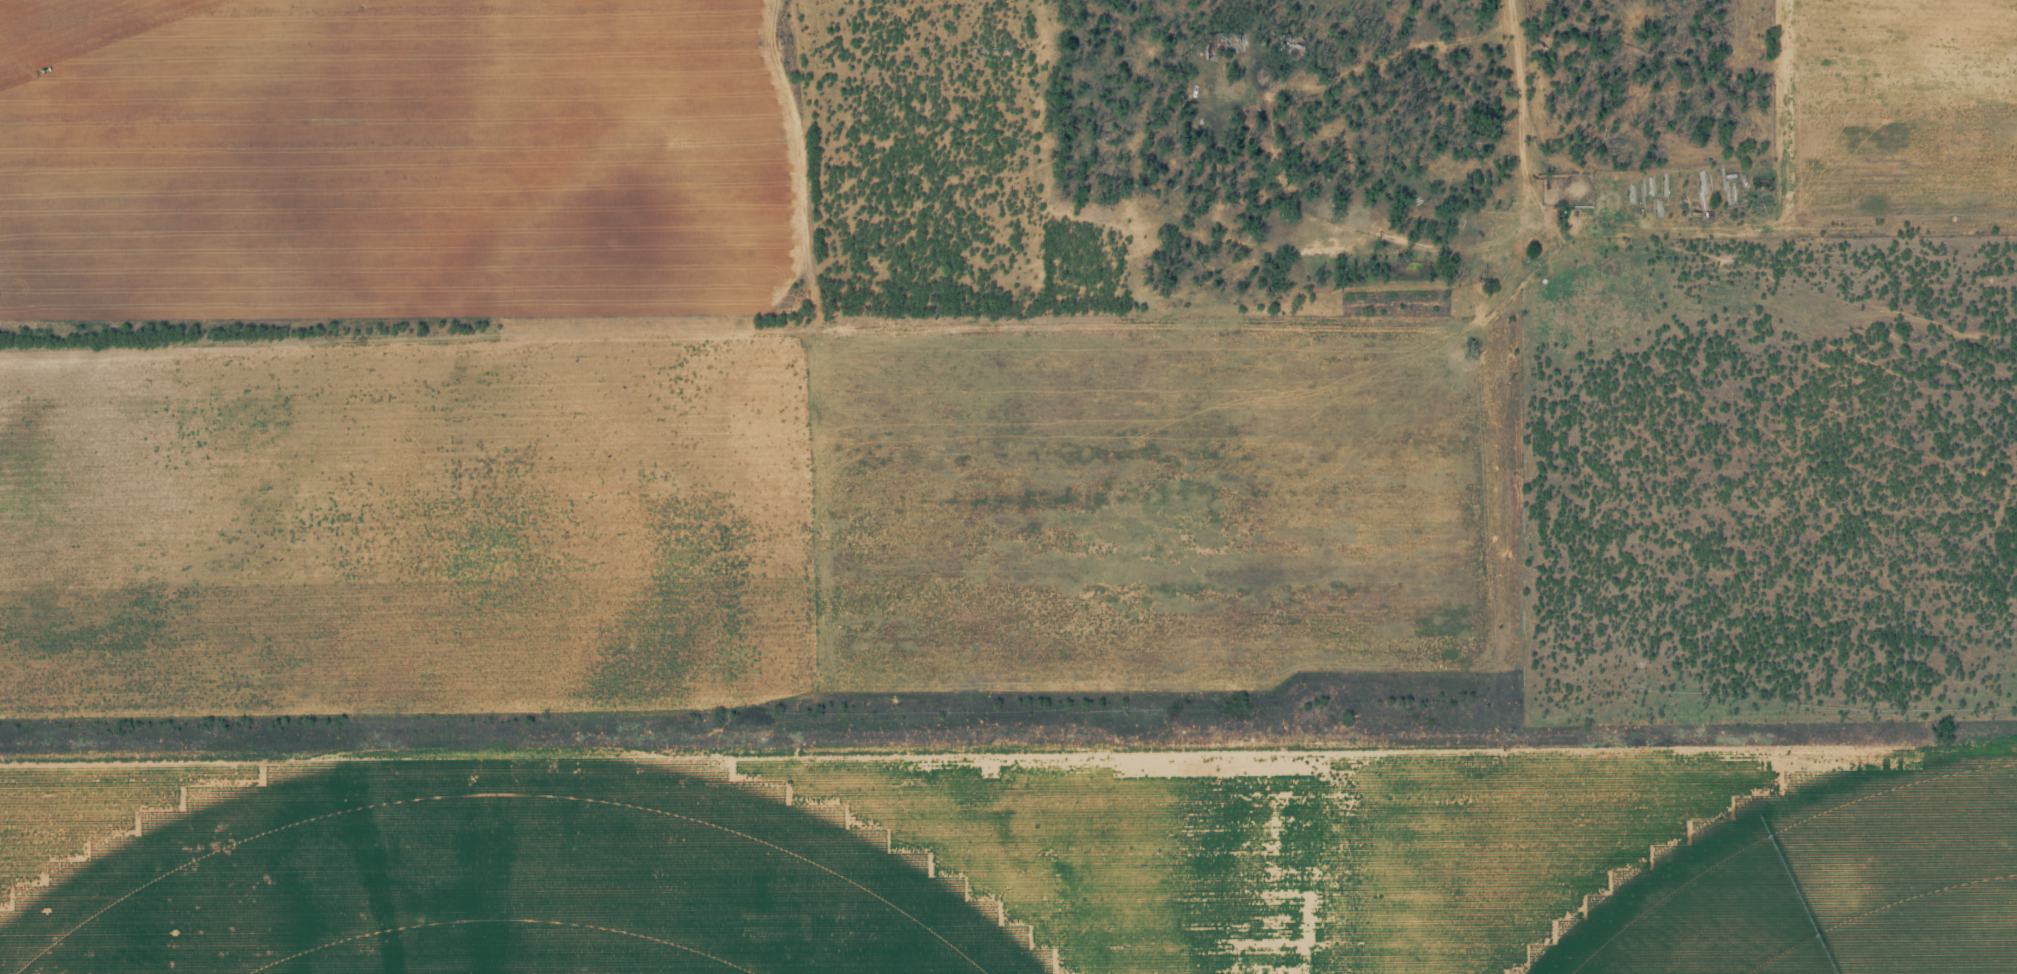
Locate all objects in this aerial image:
road: (1646, 139)
road: (1147, 177)
road: (800, 337)
road: (1509, 631)

